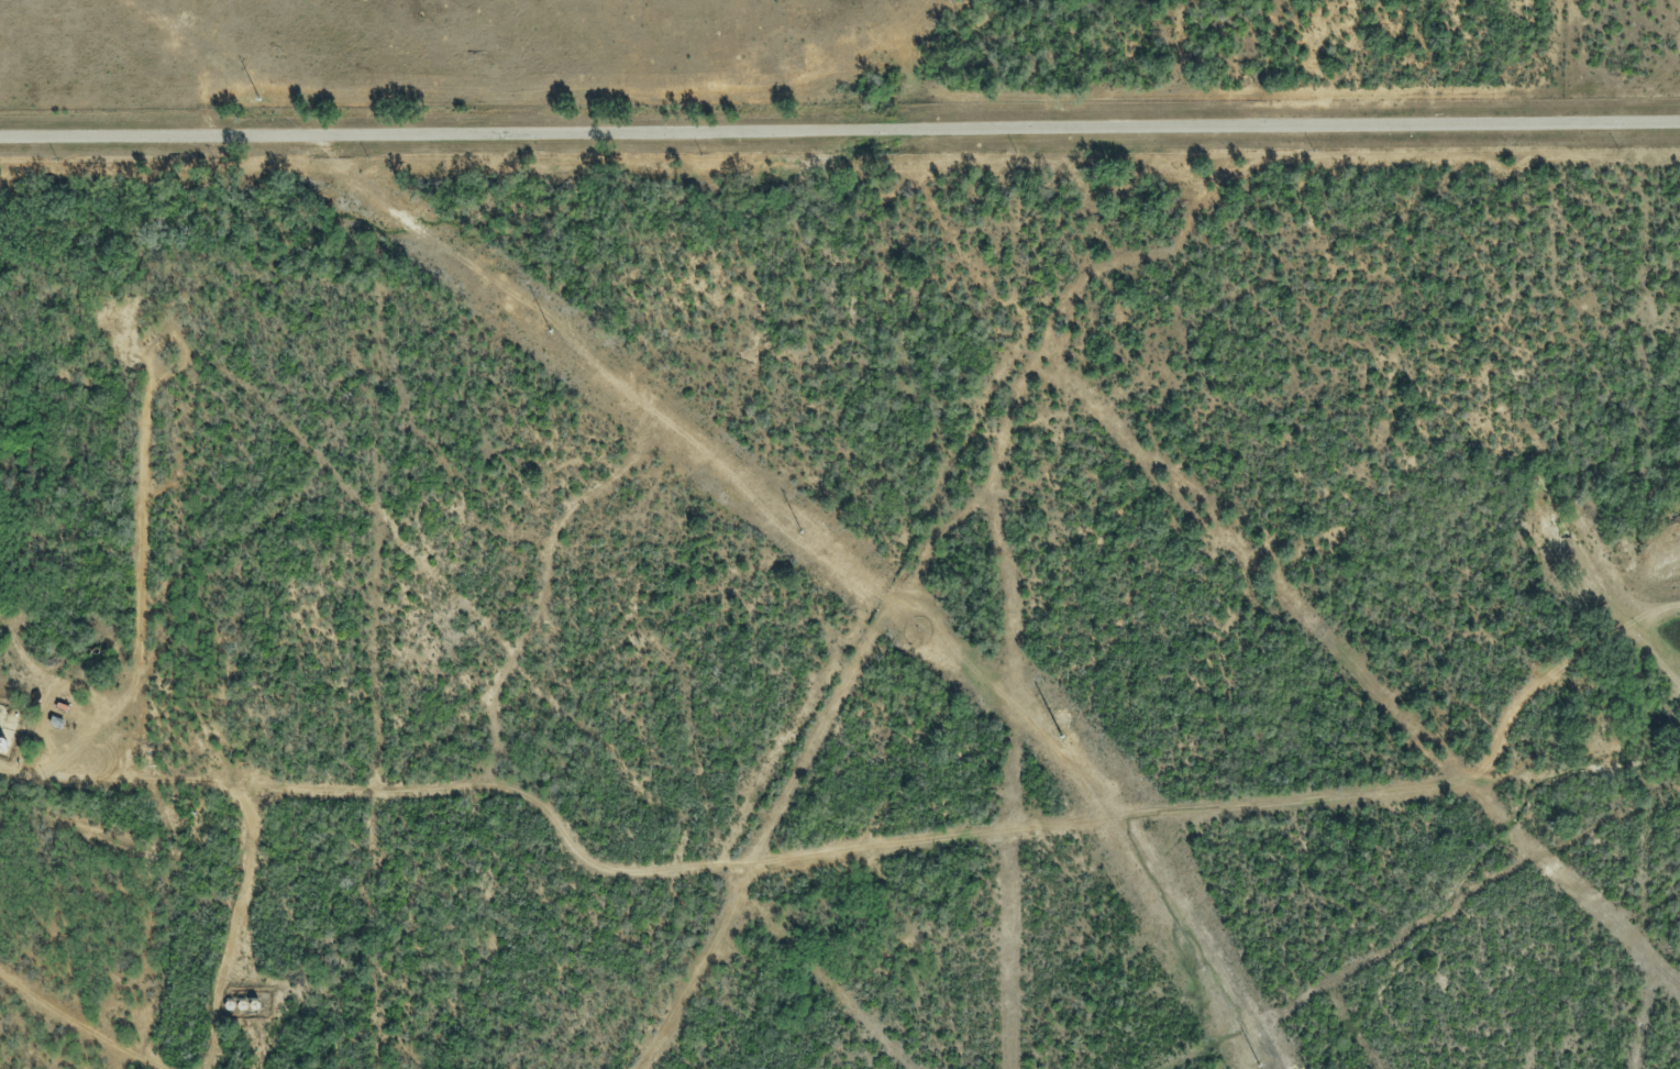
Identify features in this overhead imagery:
power tower: (264, 108)
road: (840, 131)
power tower: (544, 329)
power tower: (795, 528)
power tower: (1065, 741)
road: (53, 780)
power tower: (1253, 1060)

